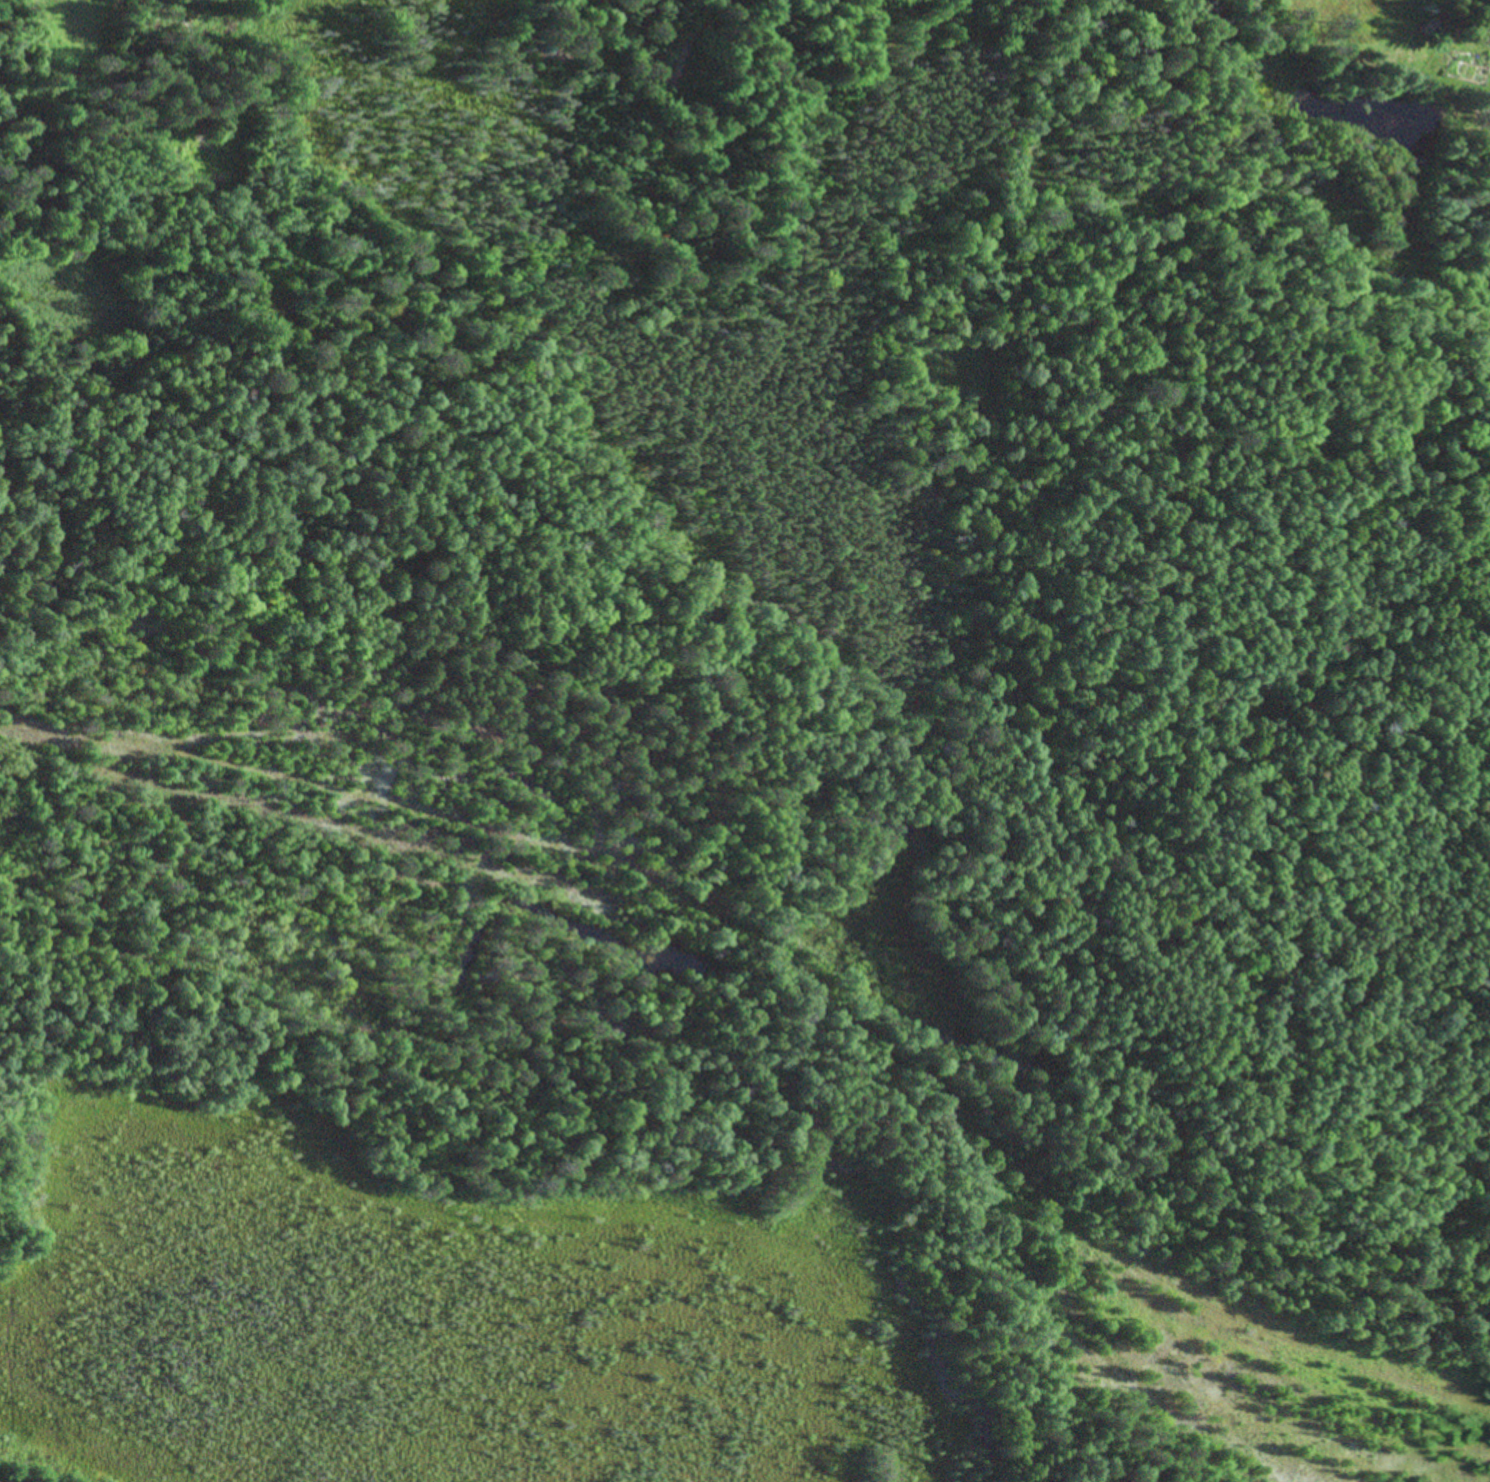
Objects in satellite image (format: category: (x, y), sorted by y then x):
building: (1434, 29)
building: (1486, 178)

